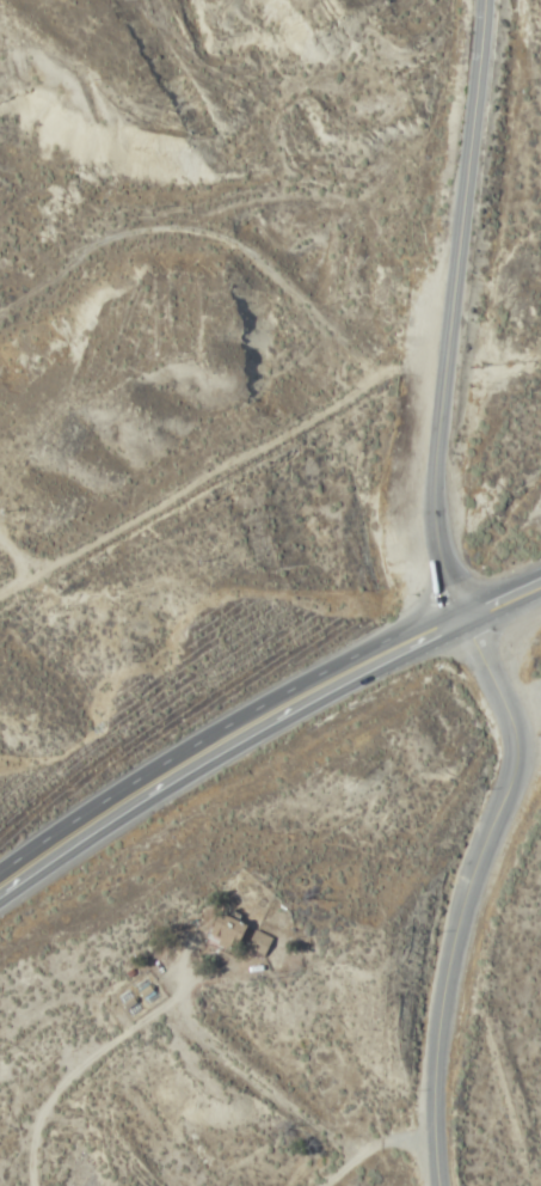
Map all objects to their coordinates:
crop: (504, 190)
road: (455, 310)
road: (262, 723)
road: (471, 893)
building: (228, 930)
building: (259, 942)
crop: (214, 1060)
road: (289, 1108)
road: (332, 1169)

